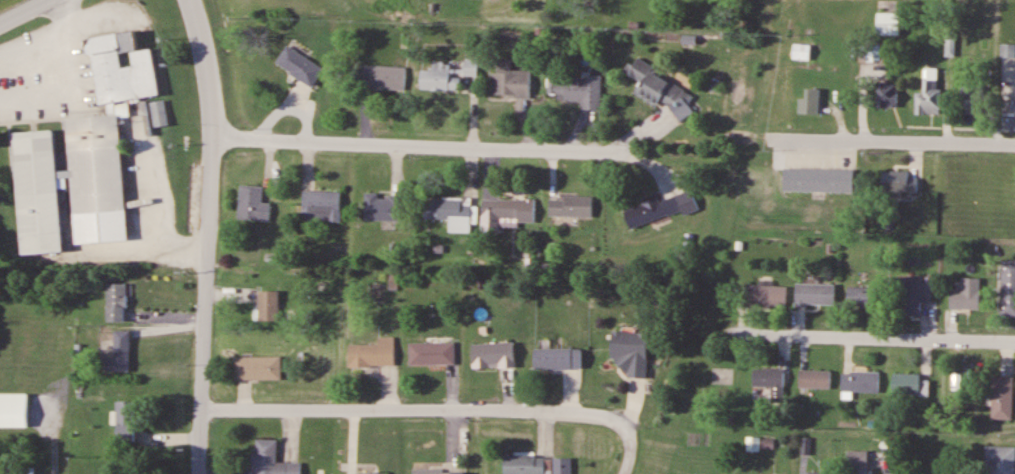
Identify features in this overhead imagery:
road: (21, 11)
building: (888, 23)
building: (870, 50)
building: (801, 51)
building: (297, 65)
building: (119, 68)
building: (448, 74)
building: (381, 77)
building: (509, 79)
building: (577, 89)
building: (660, 89)
building: (886, 94)
building: (972, 98)
building: (928, 100)
building: (813, 101)
building: (156, 121)
road: (896, 144)
road: (420, 148)
building: (821, 179)
building: (98, 180)
building: (899, 183)
building: (41, 192)
building: (249, 203)
building: (319, 205)
building: (570, 205)
building: (381, 207)
building: (660, 207)
building: (506, 212)
road: (203, 235)
building: (1008, 285)
building: (815, 294)
building: (915, 294)
building: (966, 294)
building: (768, 296)
building: (862, 297)
building: (114, 302)
building: (266, 305)
road: (883, 339)
building: (631, 352)
building: (119, 353)
building: (371, 353)
building: (431, 353)
building: (492, 355)
building: (557, 358)
building: (255, 367)
building: (814, 379)
building: (770, 381)
building: (860, 381)
building: (907, 384)
building: (1002, 397)
building: (16, 409)
road: (434, 411)
building: (124, 421)
building: (270, 460)
building: (1000, 460)
building: (858, 461)
building: (538, 465)
building: (439, 471)
building: (362, 473)
building: (816, 473)

